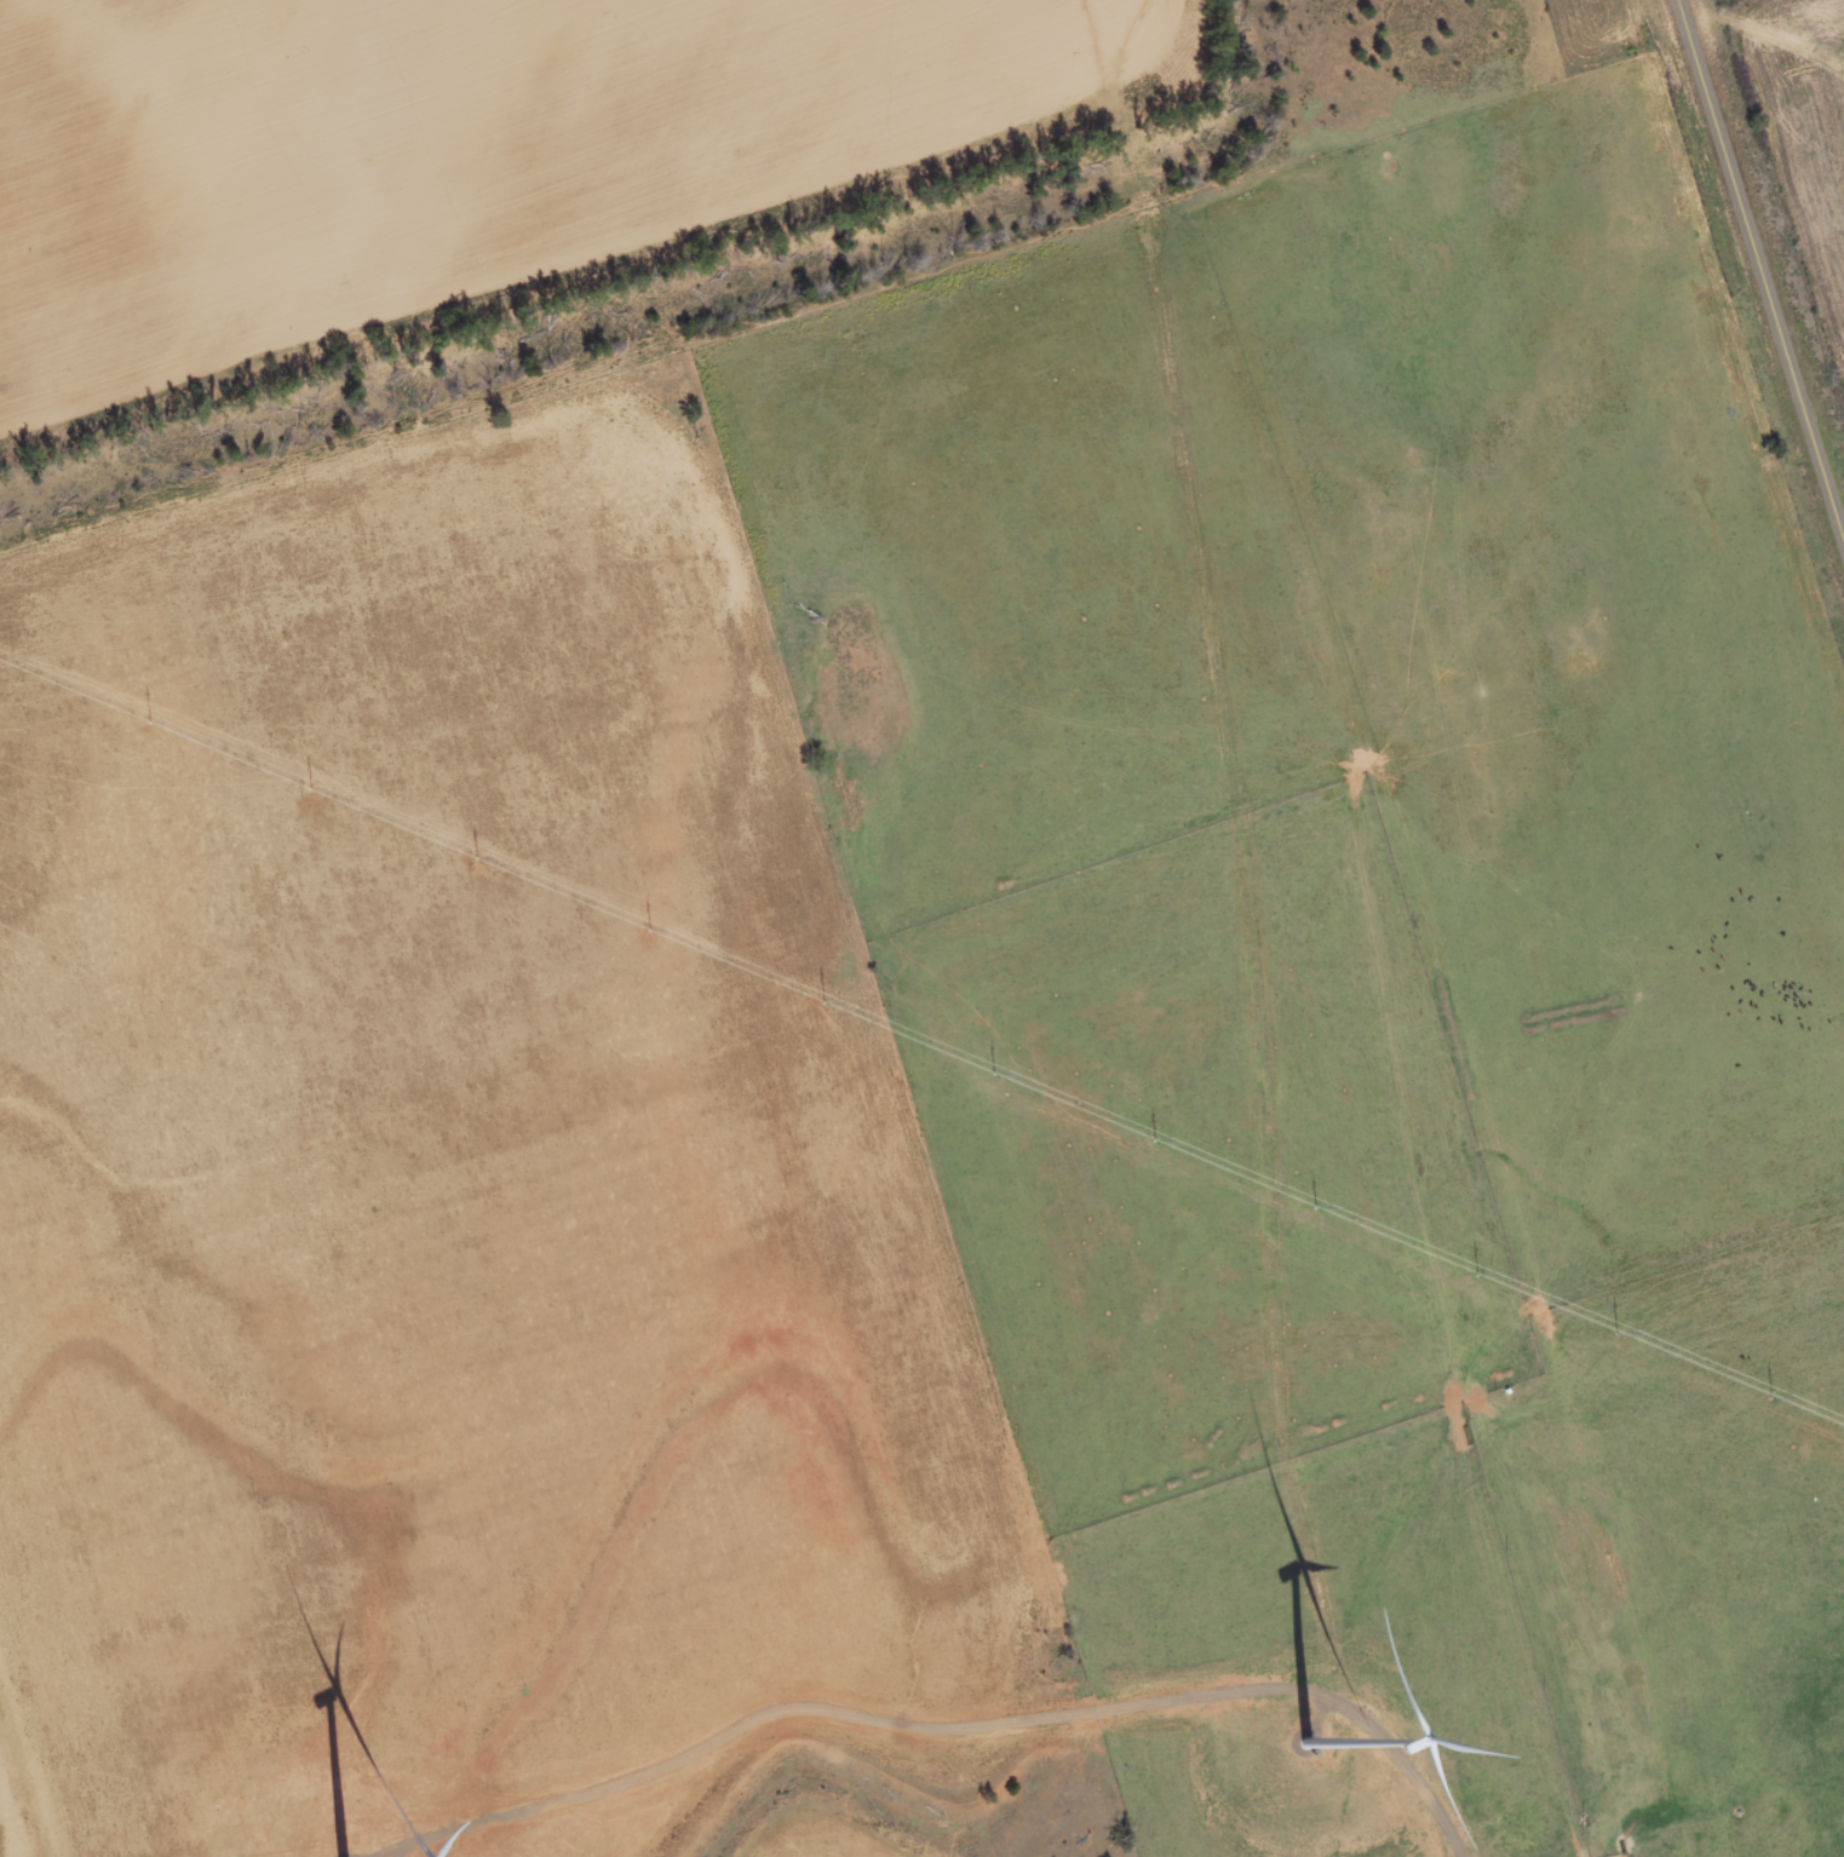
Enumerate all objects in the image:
road: (1763, 265)
wind turbine: (1308, 1757)

